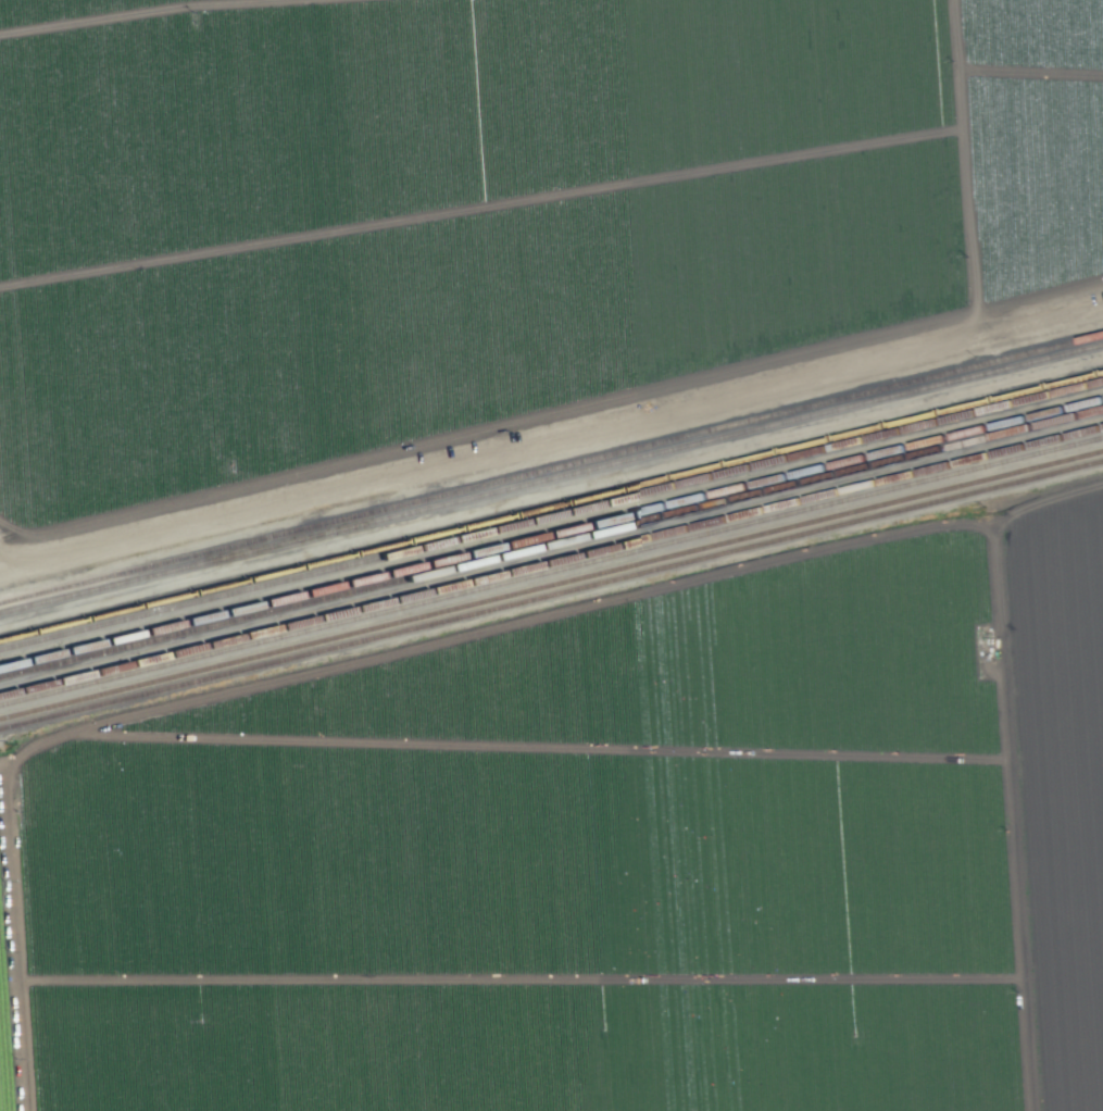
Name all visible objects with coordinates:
crop: (492, 216)
railway: (551, 469)
railway: (551, 477)
railway: (551, 507)
railway: (551, 515)
railway: (551, 535)
railway: (551, 545)
railway: (551, 561)
railway: (551, 570)
railway: (551, 584)
railway: (551, 595)
crop: (602, 858)
road: (23, 931)

